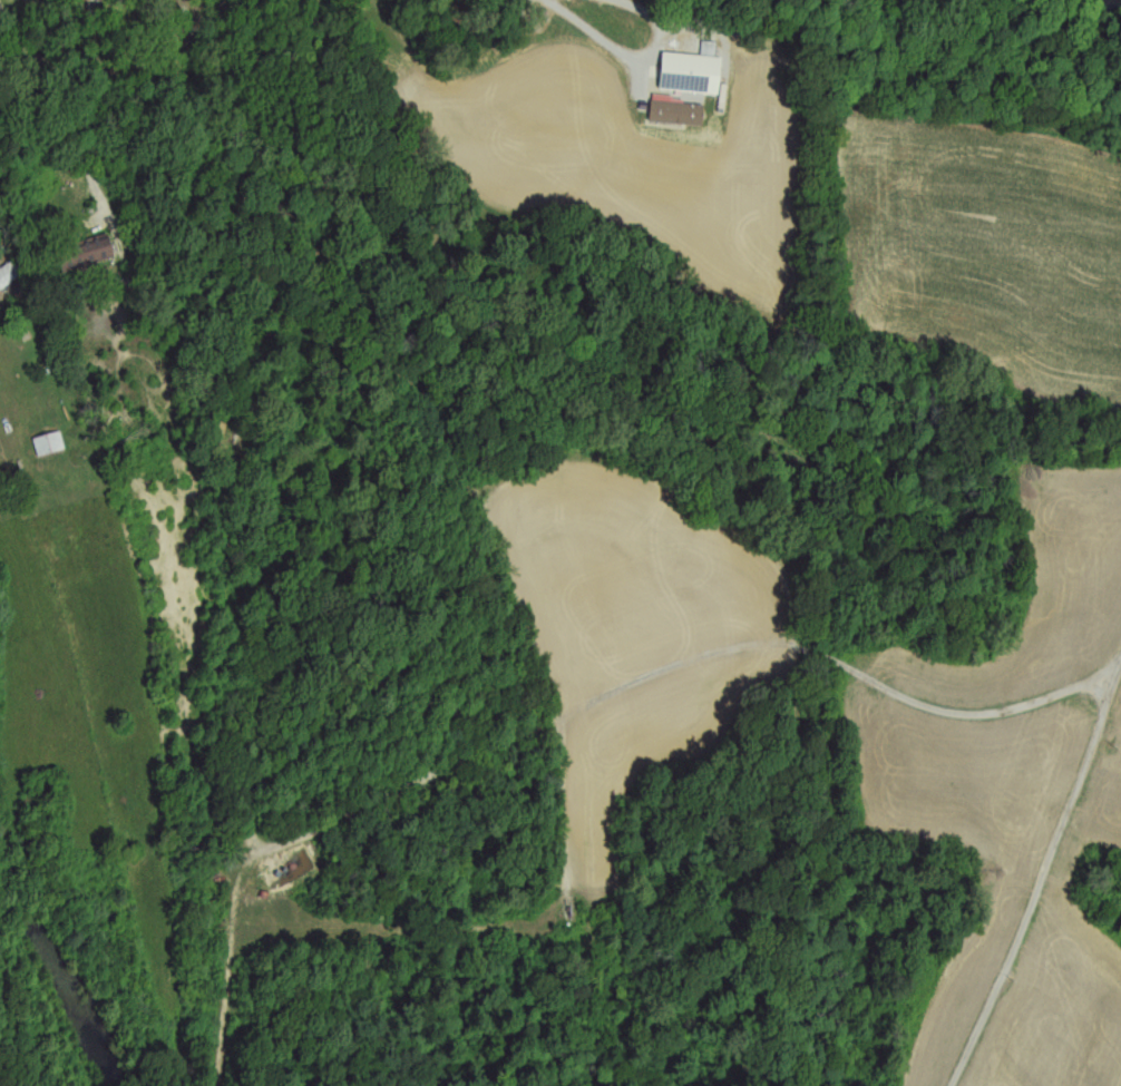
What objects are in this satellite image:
road: (628, 49)
building: (693, 74)
road: (79, 94)
building: (87, 253)
building: (10, 275)
building: (52, 444)
road: (688, 658)
road: (1043, 878)

